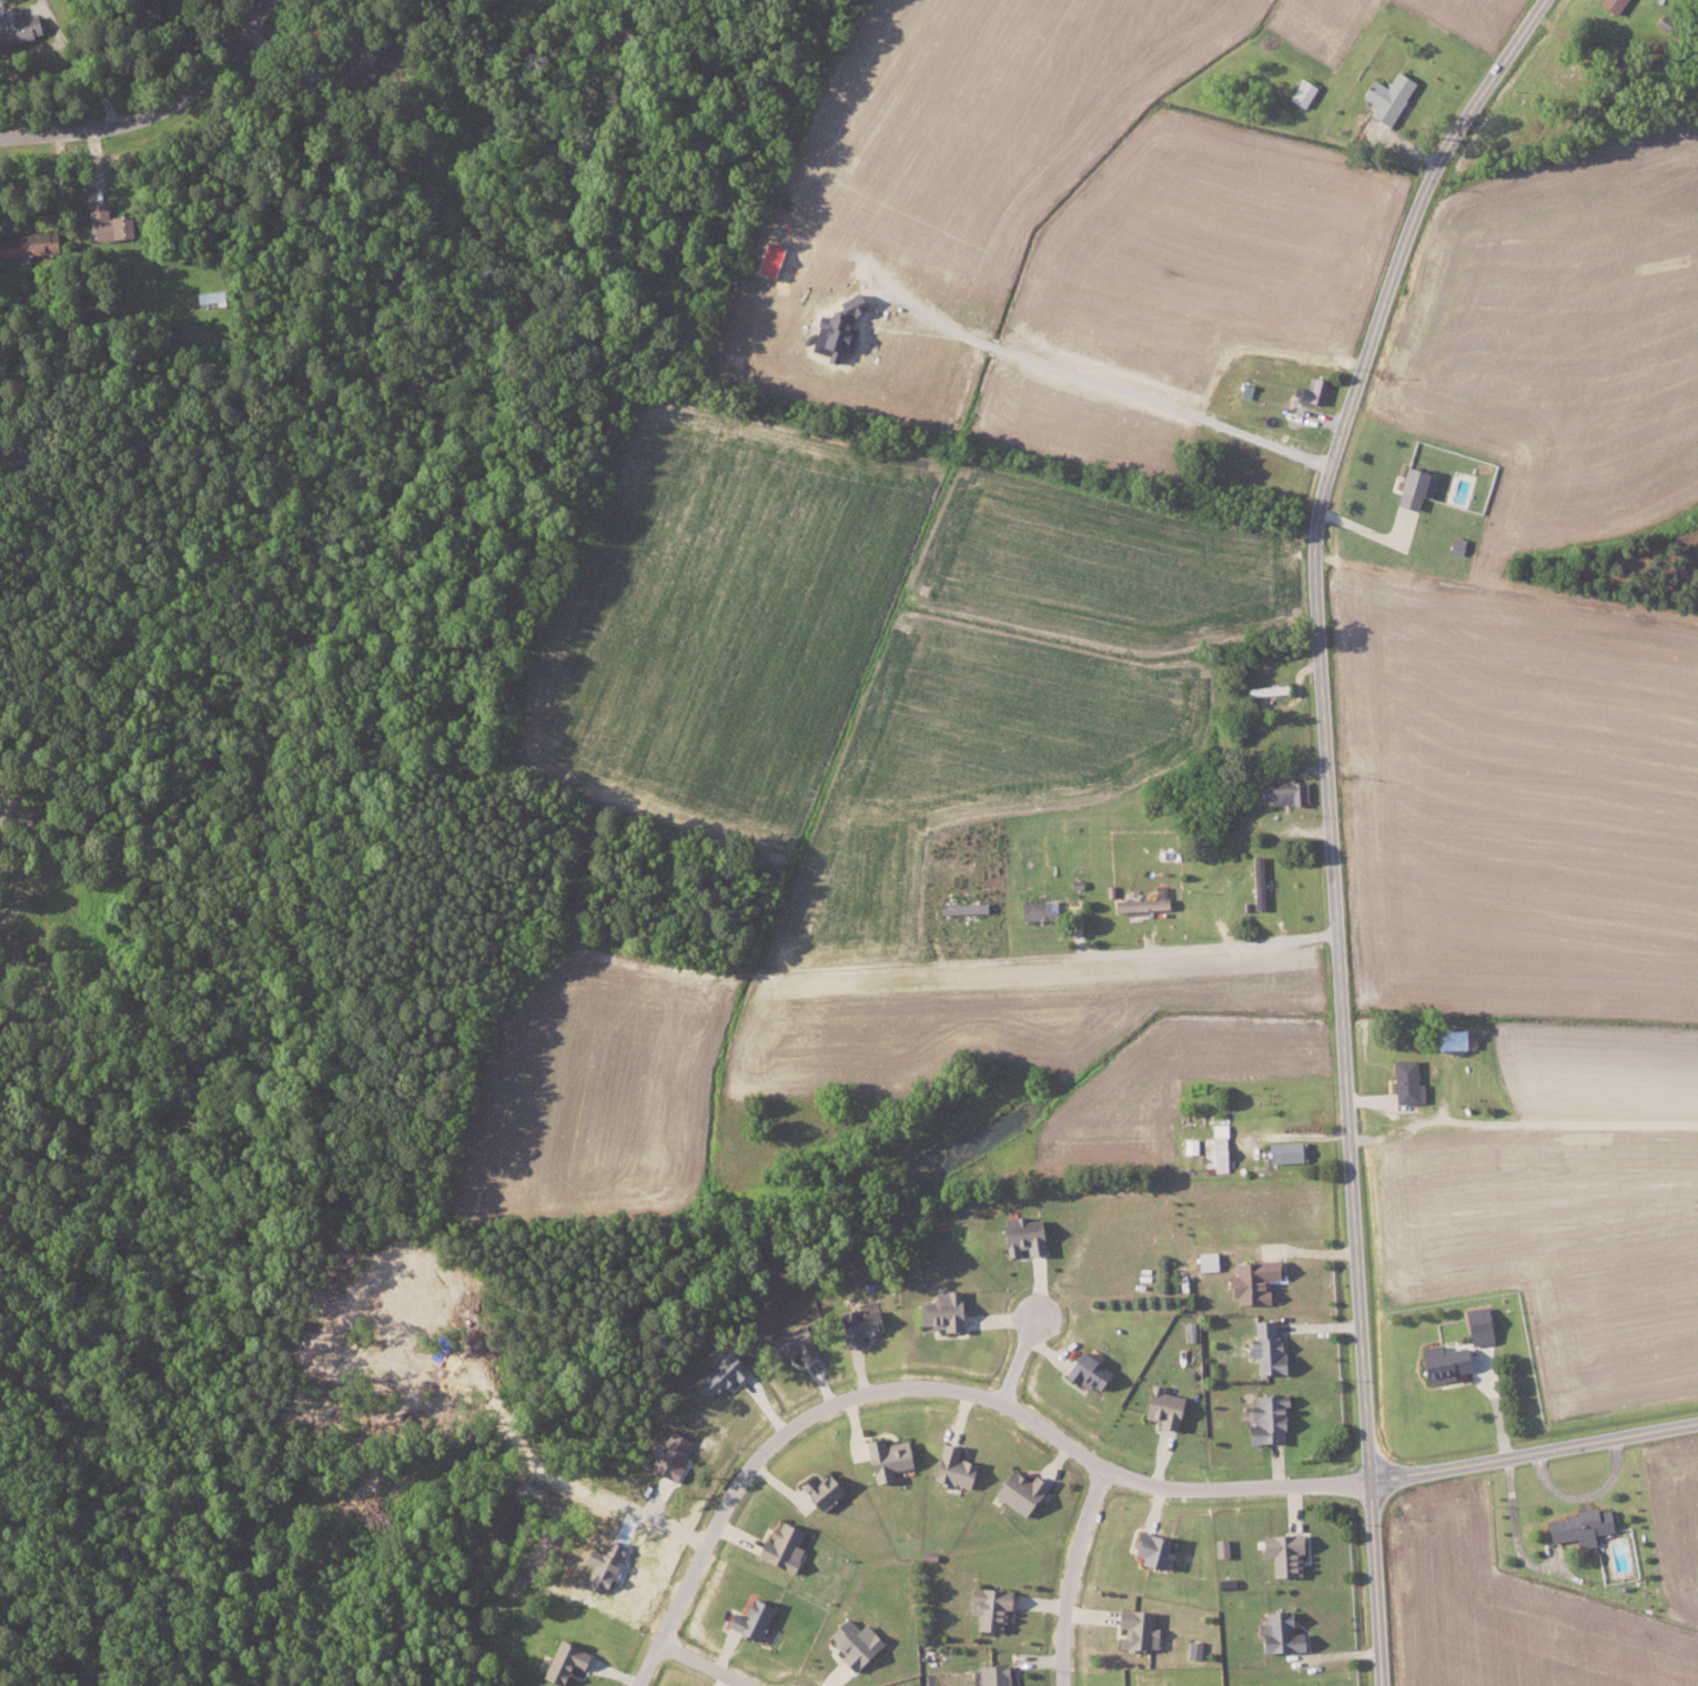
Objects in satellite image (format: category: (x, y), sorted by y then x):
building: (1609, 4)
building: (16, 23)
building: (1301, 91)
building: (1385, 95)
road: (158, 111)
building: (107, 222)
building: (27, 243)
building: (209, 295)
building: (1310, 390)
building: (1412, 486)
building: (1284, 791)
road: (1327, 817)
building: (1256, 882)
building: (1138, 903)
building: (960, 907)
building: (1035, 909)
road: (1065, 956)
building: (1448, 1039)
building: (1404, 1082)
road: (1520, 1121)
building: (1190, 1145)
building: (1215, 1148)
building: (1284, 1151)
building: (1020, 1235)
building: (1204, 1261)
building: (1251, 1281)
building: (938, 1311)
building: (857, 1325)
building: (1476, 1325)
building: (1189, 1332)
building: (788, 1344)
building: (1264, 1349)
road: (1021, 1357)
building: (1439, 1362)
building: (1083, 1371)
building: (716, 1376)
building: (1160, 1407)
road: (808, 1412)
building: (1263, 1419)
building: (667, 1455)
road: (1535, 1455)
building: (951, 1468)
road: (1240, 1485)
building: (818, 1491)
building: (1015, 1491)
building: (1578, 1526)
building: (777, 1547)
building: (1219, 1547)
building: (1145, 1548)
building: (1280, 1553)
road: (1067, 1576)
building: (987, 1608)
building: (746, 1619)
building: (1134, 1631)
building: (1275, 1634)
building: (850, 1643)
building: (1192, 1649)
building: (560, 1662)
road: (698, 1663)
building: (991, 1675)

